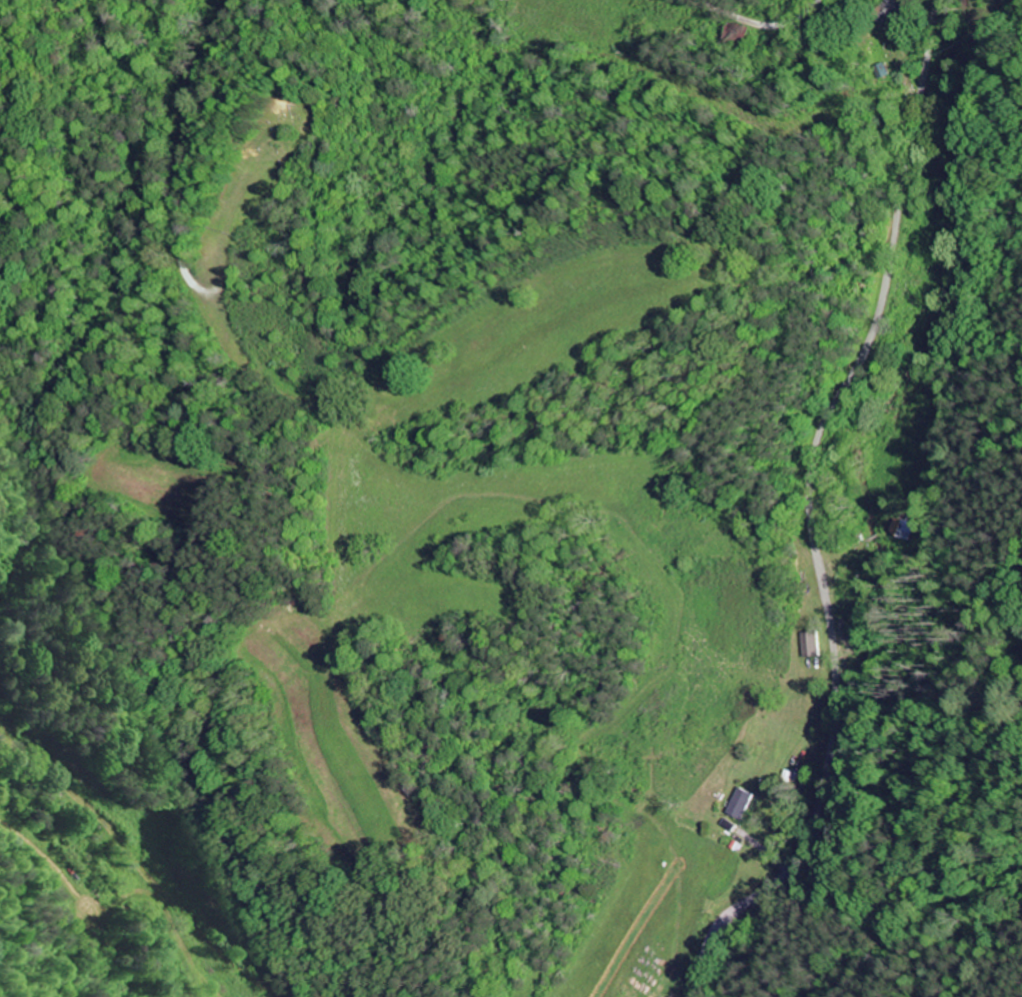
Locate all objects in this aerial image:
road: (753, 24)
road: (809, 518)
building: (807, 644)
building: (737, 804)
road: (130, 833)

